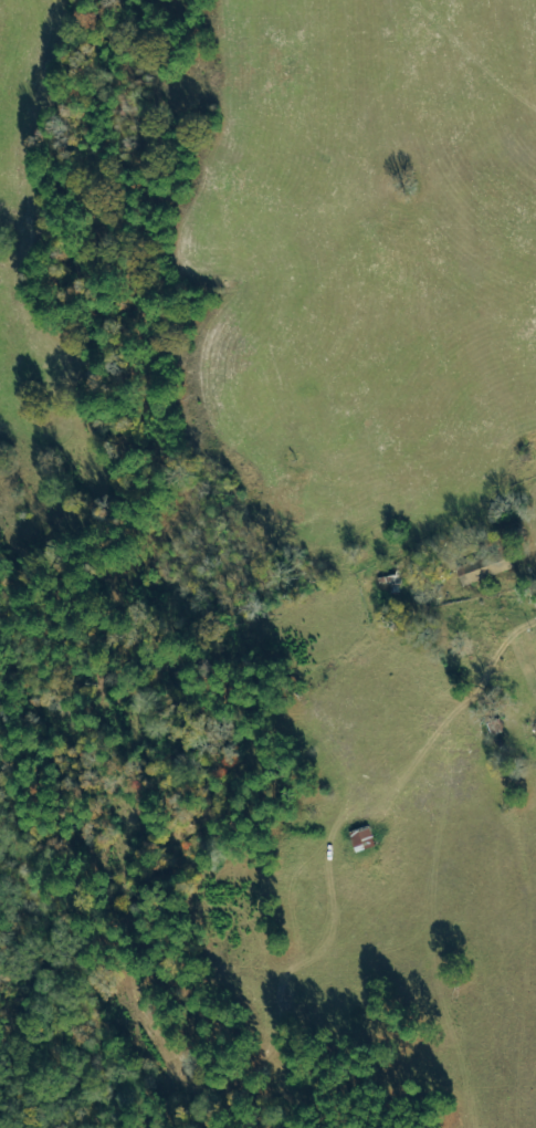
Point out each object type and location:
building: (483, 567)
building: (391, 578)
building: (361, 837)

